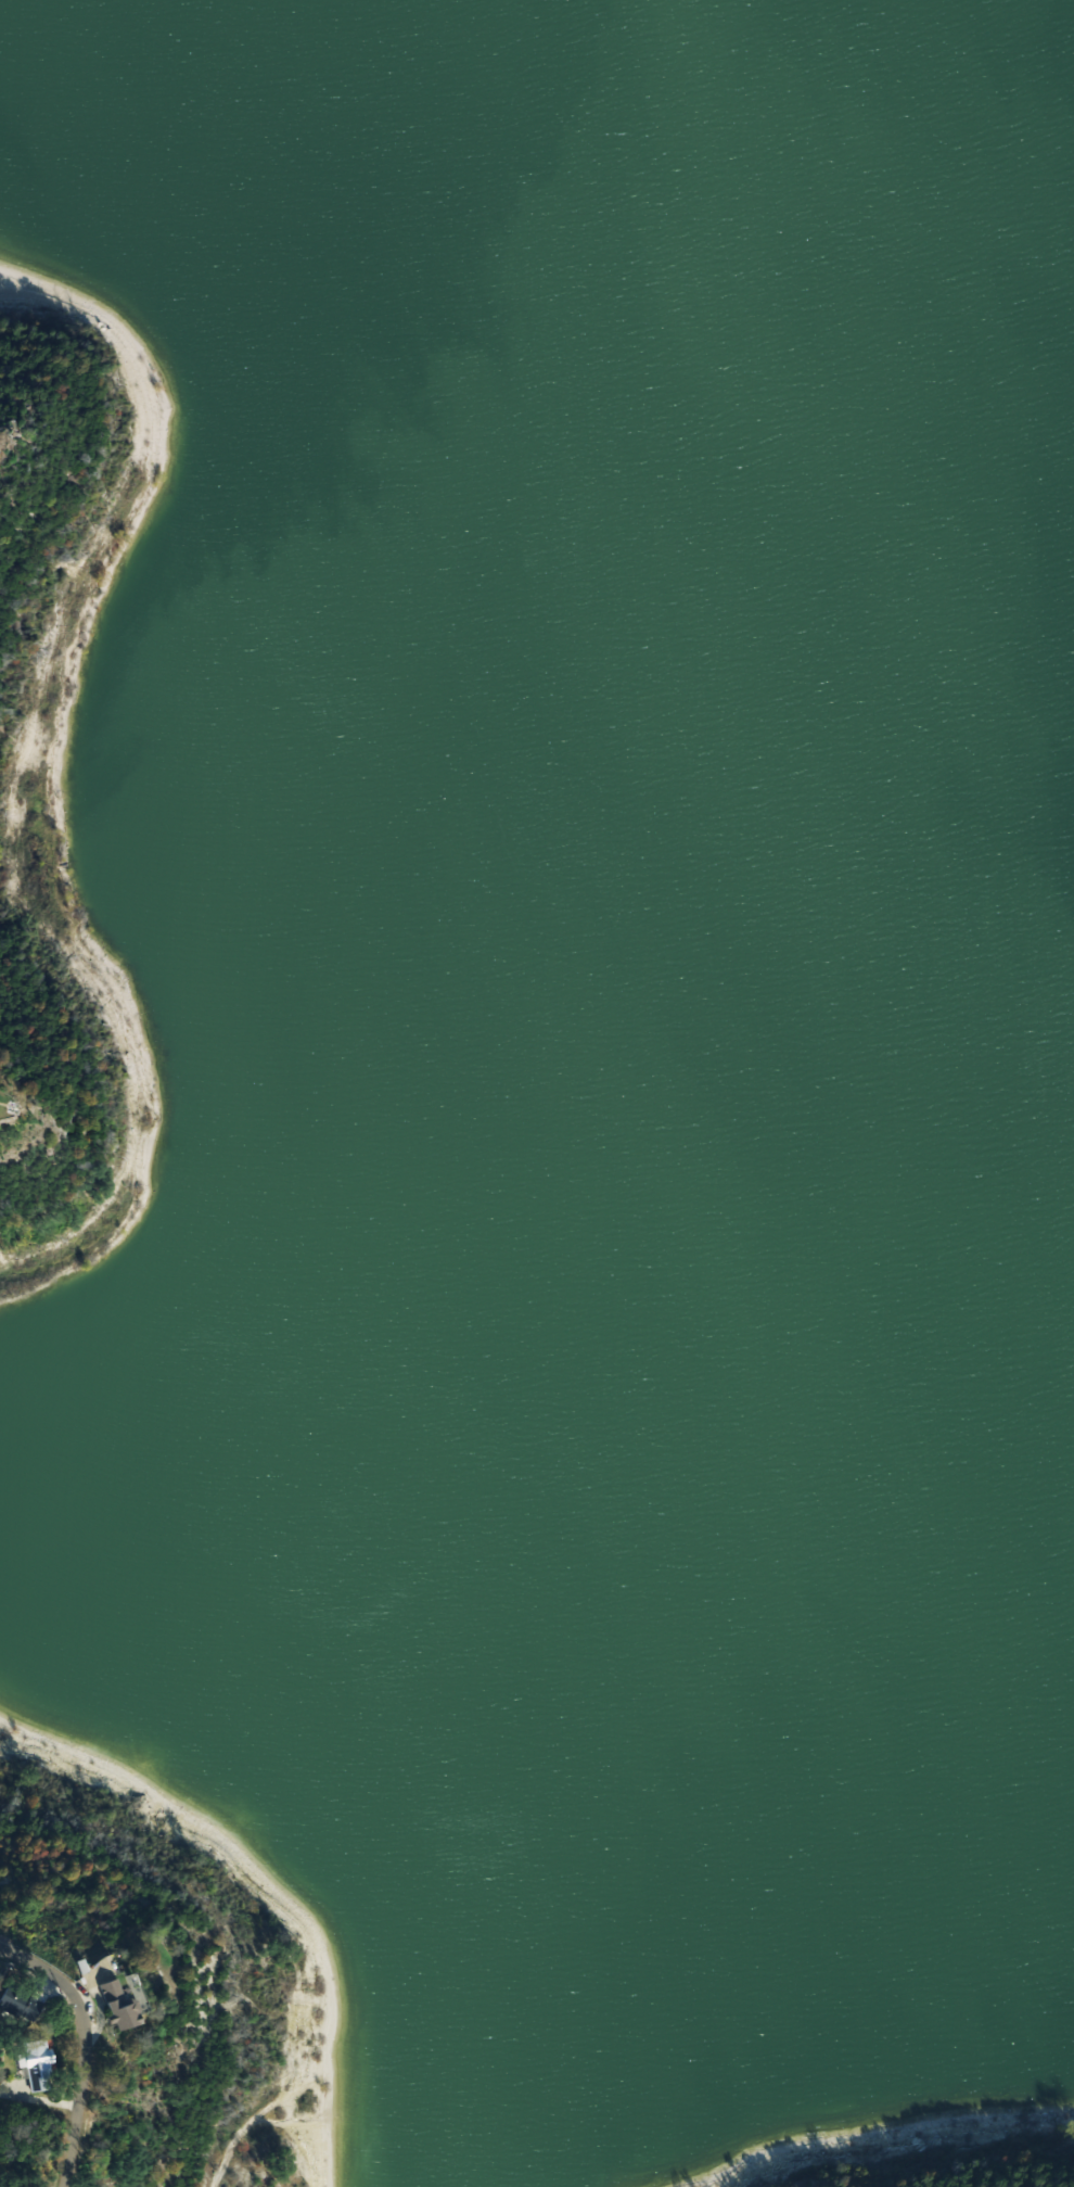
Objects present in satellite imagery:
building: (25, 2001)
building: (128, 2001)
road: (86, 2046)
building: (40, 2063)
building: (11, 2186)

